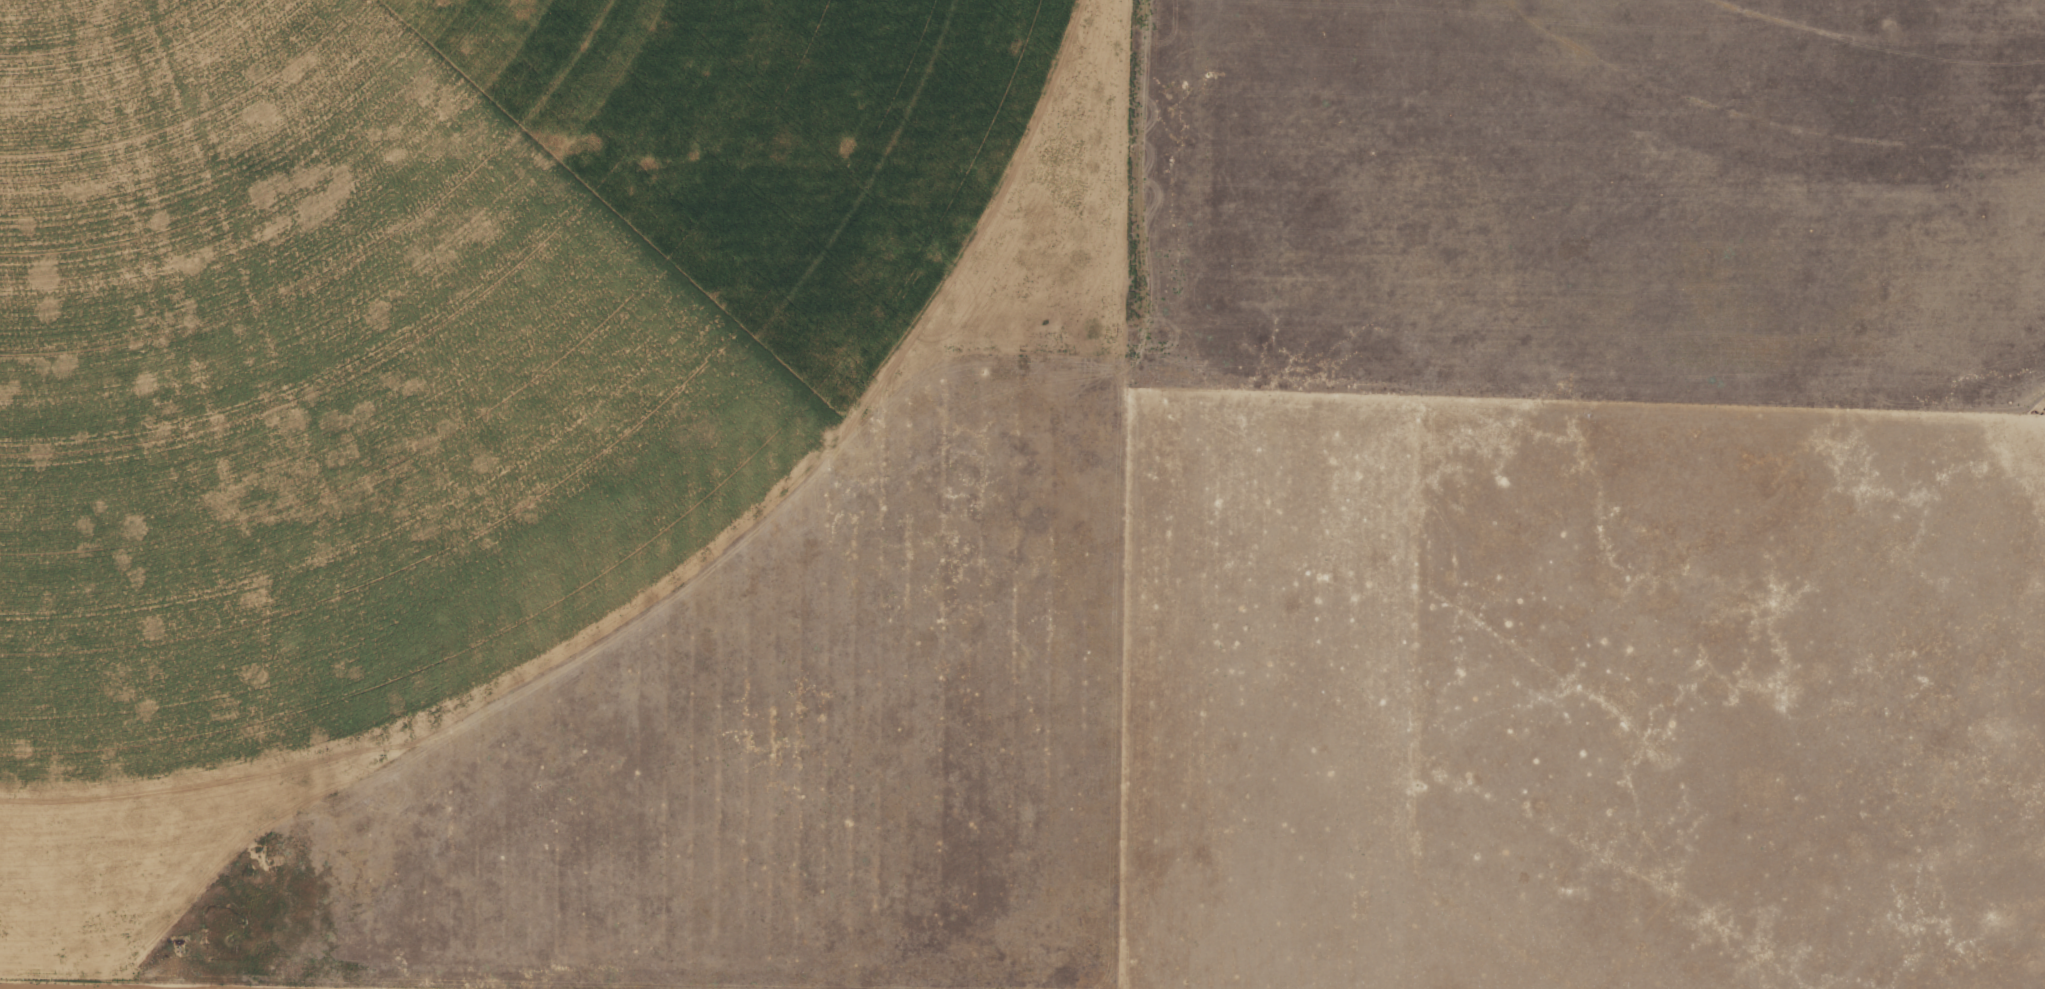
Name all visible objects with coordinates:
road: (653, 198)

